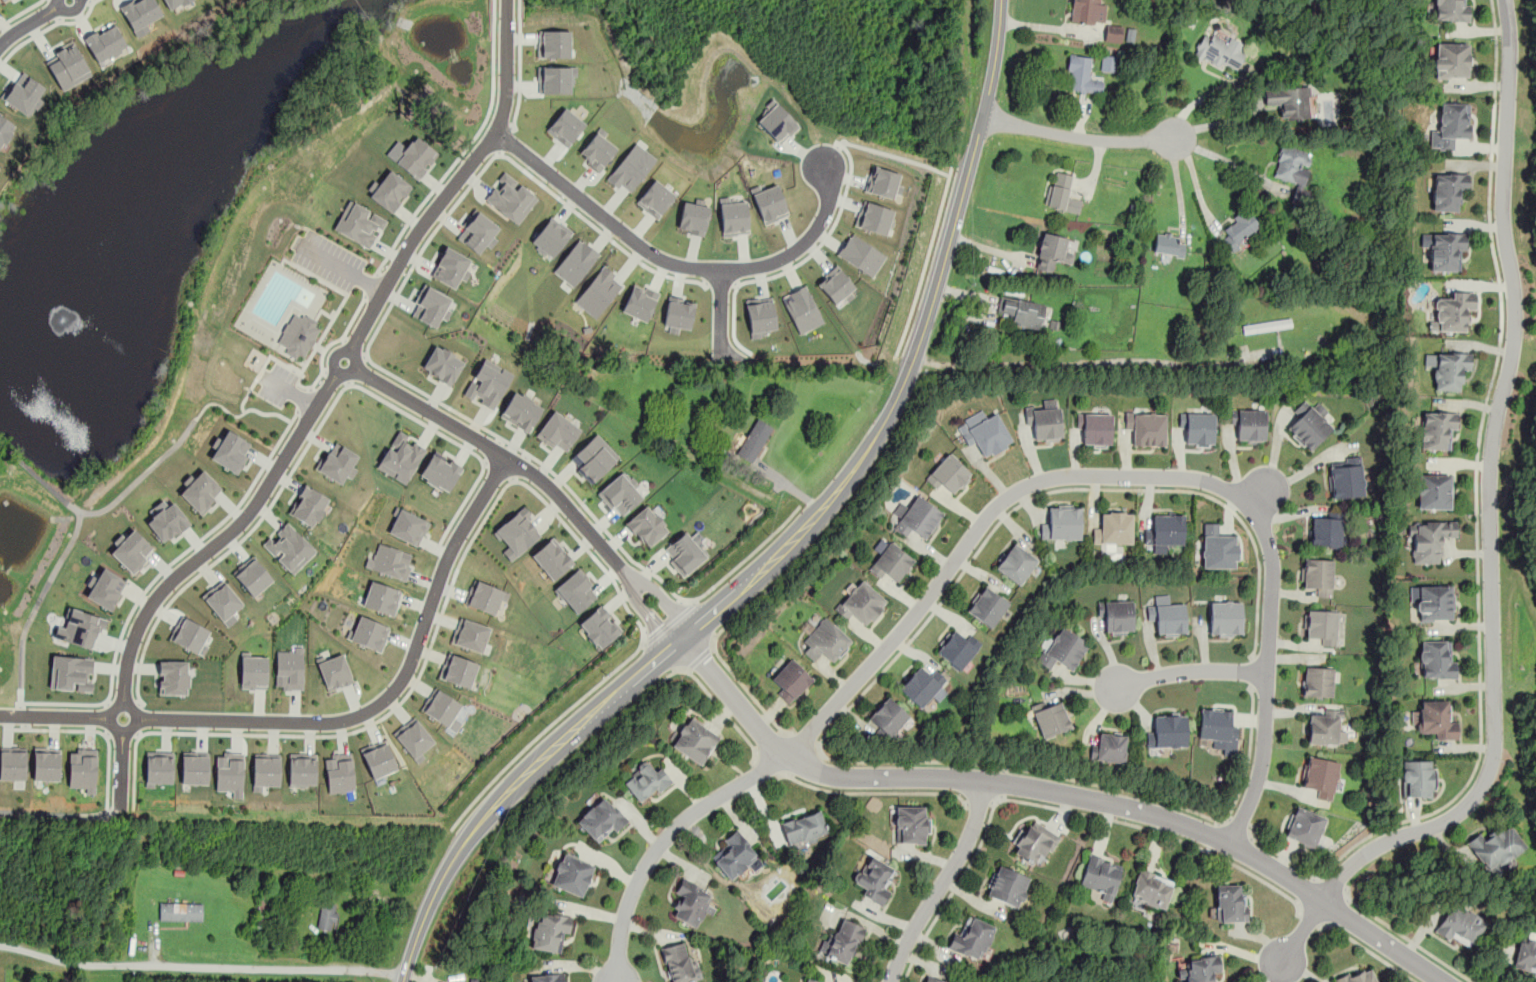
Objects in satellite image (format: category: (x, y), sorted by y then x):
building: (0, 0)
building: (173, 3)
road: (56, 10)
building: (1451, 10)
building: (1088, 11)
road: (20, 12)
building: (139, 14)
road: (33, 20)
road: (1046, 27)
road: (47, 28)
building: (1113, 32)
building: (104, 42)
building: (553, 43)
building: (1220, 50)
building: (1451, 60)
building: (1108, 62)
building: (68, 65)
road: (518, 65)
building: (1081, 75)
building: (554, 79)
building: (23, 93)
road: (1206, 97)
building: (1289, 101)
building: (776, 122)
road: (1224, 122)
road: (513, 124)
building: (1451, 126)
building: (565, 127)
building: (5, 129)
road: (1079, 137)
road: (505, 138)
road: (464, 148)
building: (597, 151)
road: (497, 153)
road: (891, 155)
building: (415, 157)
road: (1224, 162)
building: (630, 167)
building: (1294, 172)
road: (1195, 181)
building: (883, 182)
building: (1448, 189)
building: (389, 190)
building: (1059, 190)
building: (655, 198)
building: (770, 204)
building: (692, 218)
building: (733, 218)
building: (874, 218)
road: (442, 219)
building: (359, 223)
building: (1239, 228)
building: (477, 232)
building: (551, 236)
road: (823, 239)
building: (1168, 244)
building: (1445, 249)
building: (1052, 251)
building: (861, 254)
road: (326, 259)
road: (926, 259)
parking lot: (328, 260)
building: (575, 262)
road: (675, 263)
building: (451, 267)
road: (370, 283)
road: (369, 284)
building: (836, 285)
building: (598, 291)
building: (639, 302)
building: (431, 305)
building: (801, 309)
road: (720, 310)
building: (1023, 311)
building: (1453, 311)
building: (678, 312)
building: (760, 316)
building: (1266, 325)
building: (298, 335)
road: (1086, 363)
building: (442, 364)
building: (1450, 368)
parking lot: (276, 383)
road: (278, 383)
building: (487, 383)
road: (302, 386)
road: (304, 397)
road: (304, 399)
road: (314, 409)
building: (520, 411)
road: (239, 414)
building: (1045, 420)
building: (1249, 424)
building: (1309, 424)
building: (1198, 426)
building: (1094, 427)
building: (1146, 427)
building: (1437, 430)
building: (557, 431)
building: (984, 432)
building: (754, 440)
road: (462, 445)
road: (493, 448)
building: (230, 451)
building: (401, 457)
building: (593, 458)
road: (1272, 461)
building: (338, 462)
road: (484, 462)
road: (520, 465)
road: (544, 465)
road: (499, 469)
building: (440, 472)
road: (142, 474)
road: (1294, 474)
road: (534, 475)
building: (950, 475)
road: (1134, 475)
building: (1346, 476)
road: (39, 477)
road: (1476, 477)
road: (512, 479)
building: (201, 491)
building: (1433, 491)
building: (619, 494)
building: (308, 505)
building: (918, 518)
building: (167, 522)
road: (835, 522)
building: (1062, 524)
building: (646, 526)
building: (408, 527)
building: (1114, 529)
building: (1327, 529)
building: (1166, 530)
road: (1490, 530)
building: (517, 532)
building: (1429, 538)
road: (789, 544)
road: (233, 546)
building: (289, 547)
building: (1217, 549)
building: (131, 551)
building: (684, 553)
road: (746, 555)
building: (552, 558)
building: (390, 561)
building: (891, 563)
building: (1016, 564)
building: (1318, 575)
building: (253, 576)
road: (154, 579)
building: (105, 588)
building: (576, 591)
building: (485, 597)
building: (381, 598)
building: (223, 602)
building: (1435, 602)
road: (37, 603)
building: (861, 603)
building: (987, 606)
building: (1118, 618)
building: (1168, 618)
building: (1225, 619)
road: (668, 623)
building: (1322, 626)
building: (600, 627)
building: (79, 628)
building: (368, 633)
building: (188, 634)
building: (470, 634)
building: (825, 642)
road: (905, 644)
building: (958, 648)
building: (1063, 649)
road: (429, 651)
building: (1437, 658)
road: (698, 659)
building: (289, 668)
road: (1190, 669)
building: (458, 670)
building: (335, 671)
building: (253, 672)
building: (71, 673)
road: (1252, 673)
building: (173, 677)
building: (790, 680)
building: (1318, 681)
building: (923, 685)
road: (749, 694)
road: (635, 700)
road: (106, 702)
road: (122, 704)
building: (442, 709)
building: (889, 716)
road: (107, 717)
road: (137, 718)
building: (1051, 718)
building: (1436, 719)
road: (332, 721)
building: (1325, 728)
road: (90, 730)
road: (543, 730)
building: (1218, 730)
road: (121, 731)
building: (1168, 731)
road: (105, 733)
road: (139, 734)
building: (414, 738)
building: (694, 740)
road: (802, 740)
building: (1109, 748)
road: (1249, 753)
building: (379, 759)
building: (12, 763)
building: (46, 763)
road: (768, 763)
building: (159, 767)
building: (195, 768)
building: (83, 769)
building: (302, 769)
building: (266, 770)
building: (340, 772)
building: (230, 773)
building: (1321, 776)
building: (1418, 777)
building: (645, 781)
road: (1002, 781)
road: (1059, 791)
road: (872, 792)
road: (980, 802)
road: (1060, 809)
building: (601, 818)
road: (1237, 824)
building: (911, 825)
building: (1305, 827)
building: (804, 828)
road: (1215, 835)
road: (662, 841)
building: (1035, 842)
building: (1496, 847)
building: (737, 855)
road: (1281, 855)
building: (572, 874)
building: (1101, 875)
building: (875, 880)
road: (941, 882)
road: (1336, 883)
building: (1007, 887)
building: (1151, 890)
building: (691, 902)
building: (1231, 903)
building: (180, 911)
building: (327, 915)
road: (1309, 915)
building: (1460, 925)
building: (550, 932)
road: (1404, 937)
building: (972, 939)
building: (844, 941)
road: (1368, 949)
building: (1525, 955)
building: (679, 962)
road: (202, 968)
building: (1200, 968)
building: (1359, 977)
building: (546, 978)
building: (933, 979)
building: (806, 981)
building: (814, 981)

